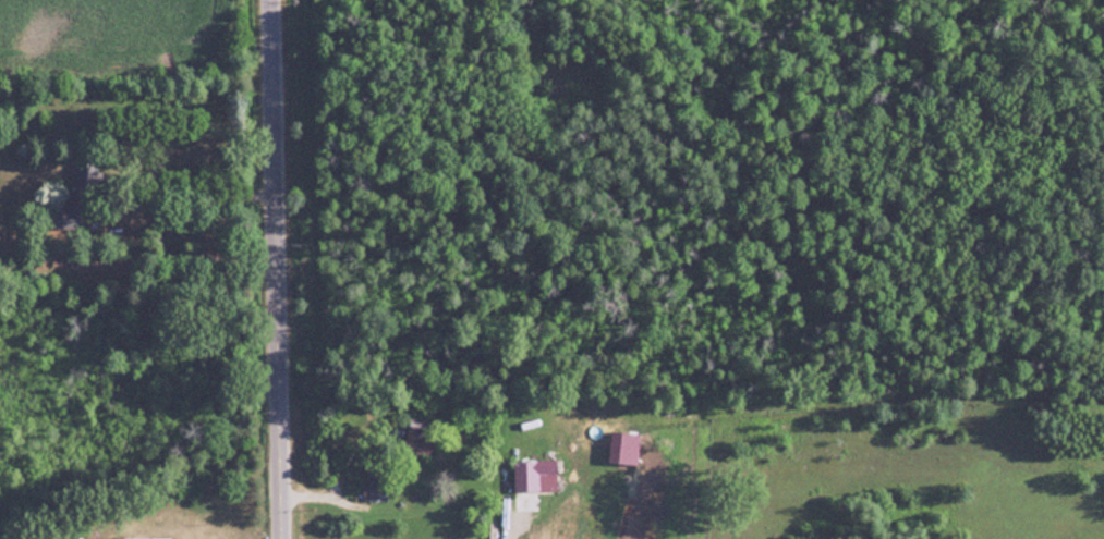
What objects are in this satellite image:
building: (81, 188)
road: (275, 269)
building: (669, 418)
building: (420, 440)
building: (526, 476)
building: (375, 487)
building: (146, 538)

